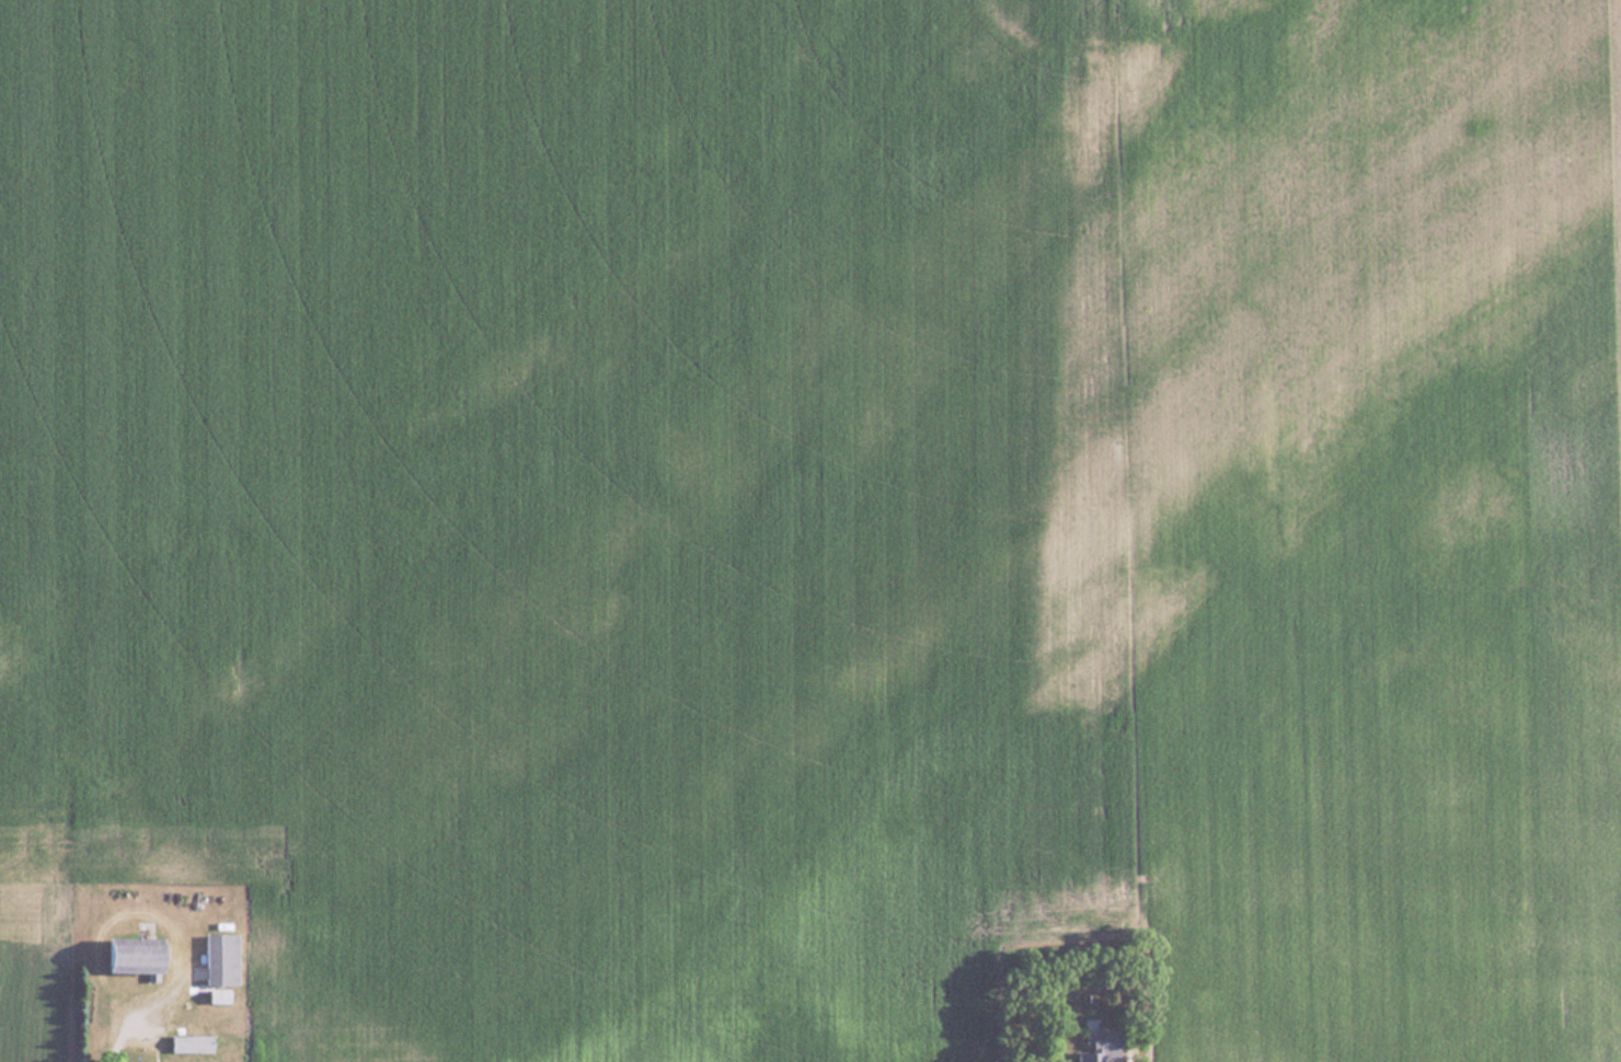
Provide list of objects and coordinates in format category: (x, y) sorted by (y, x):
building: (143, 954)
building: (223, 958)
building: (222, 995)
building: (1097, 1040)
building: (194, 1041)

